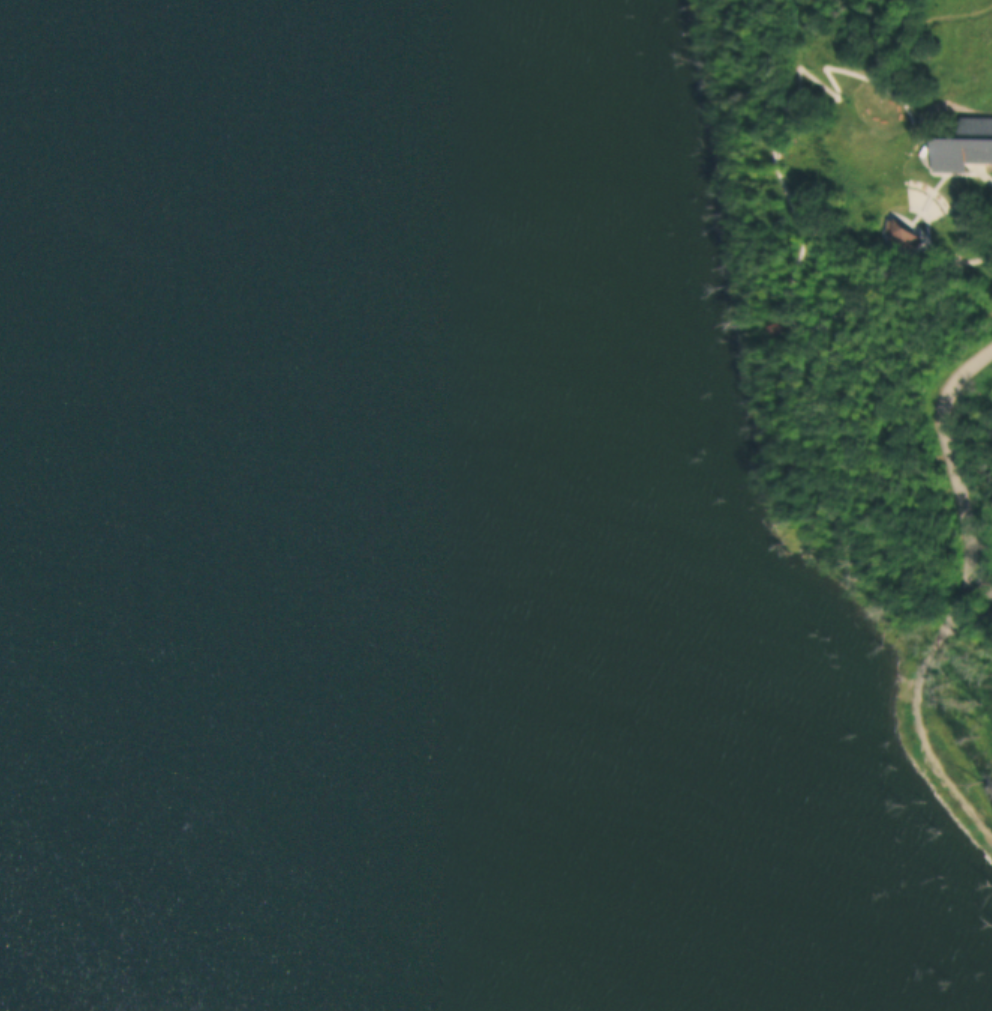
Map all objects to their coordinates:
road: (773, 133)
building: (965, 144)
road: (977, 165)
road: (928, 195)
road: (886, 211)
building: (901, 232)
building: (771, 326)
road: (952, 472)
road: (978, 585)
road: (968, 612)
road: (915, 734)
road: (975, 794)

